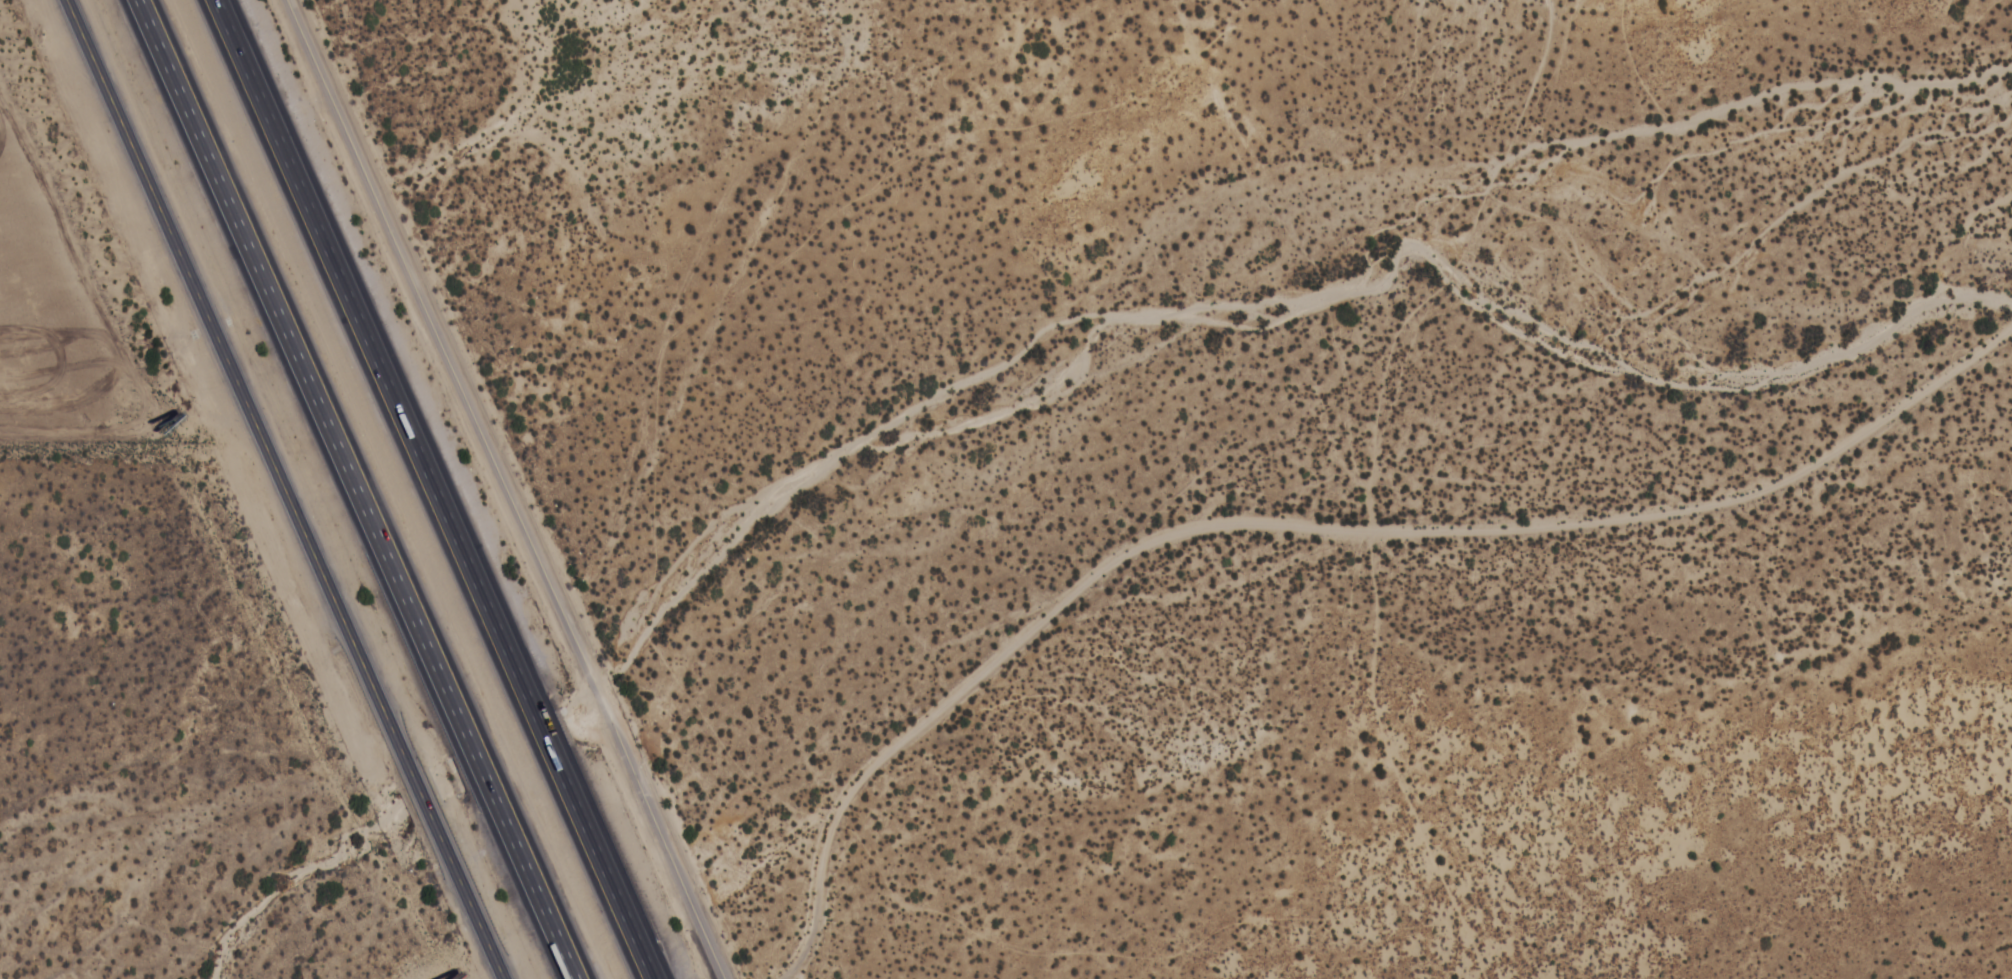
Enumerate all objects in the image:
road: (283, 489)
road: (354, 489)
road: (435, 489)
road: (510, 489)
road: (1622, 647)

